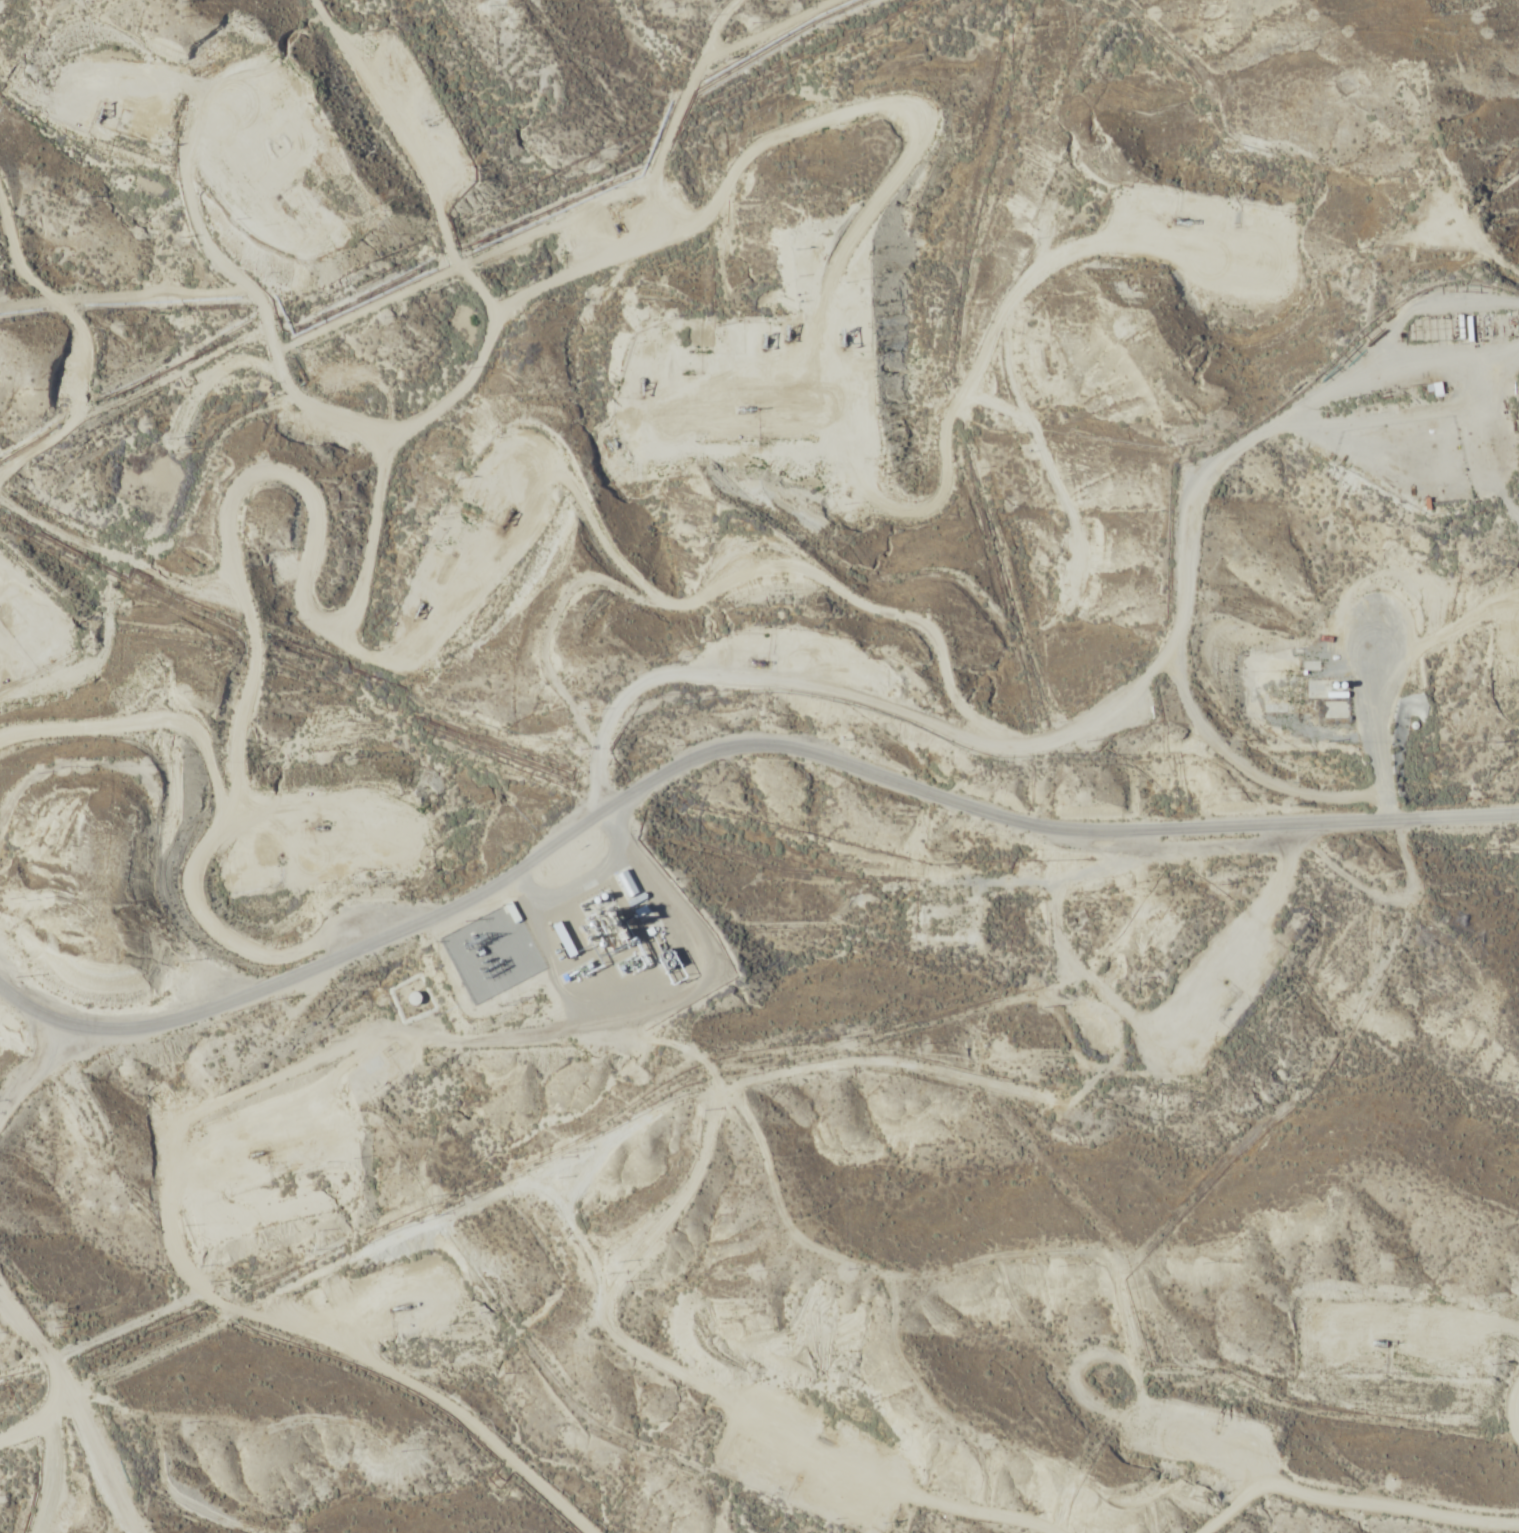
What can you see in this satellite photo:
road: (760, 17)
road: (562, 298)
road: (47, 372)
road: (902, 375)
road: (979, 607)
road: (1139, 653)
road: (721, 748)
road: (181, 799)
building: (565, 941)
building: (413, 999)
road: (8, 1089)
road: (46, 1392)
road: (30, 1441)

